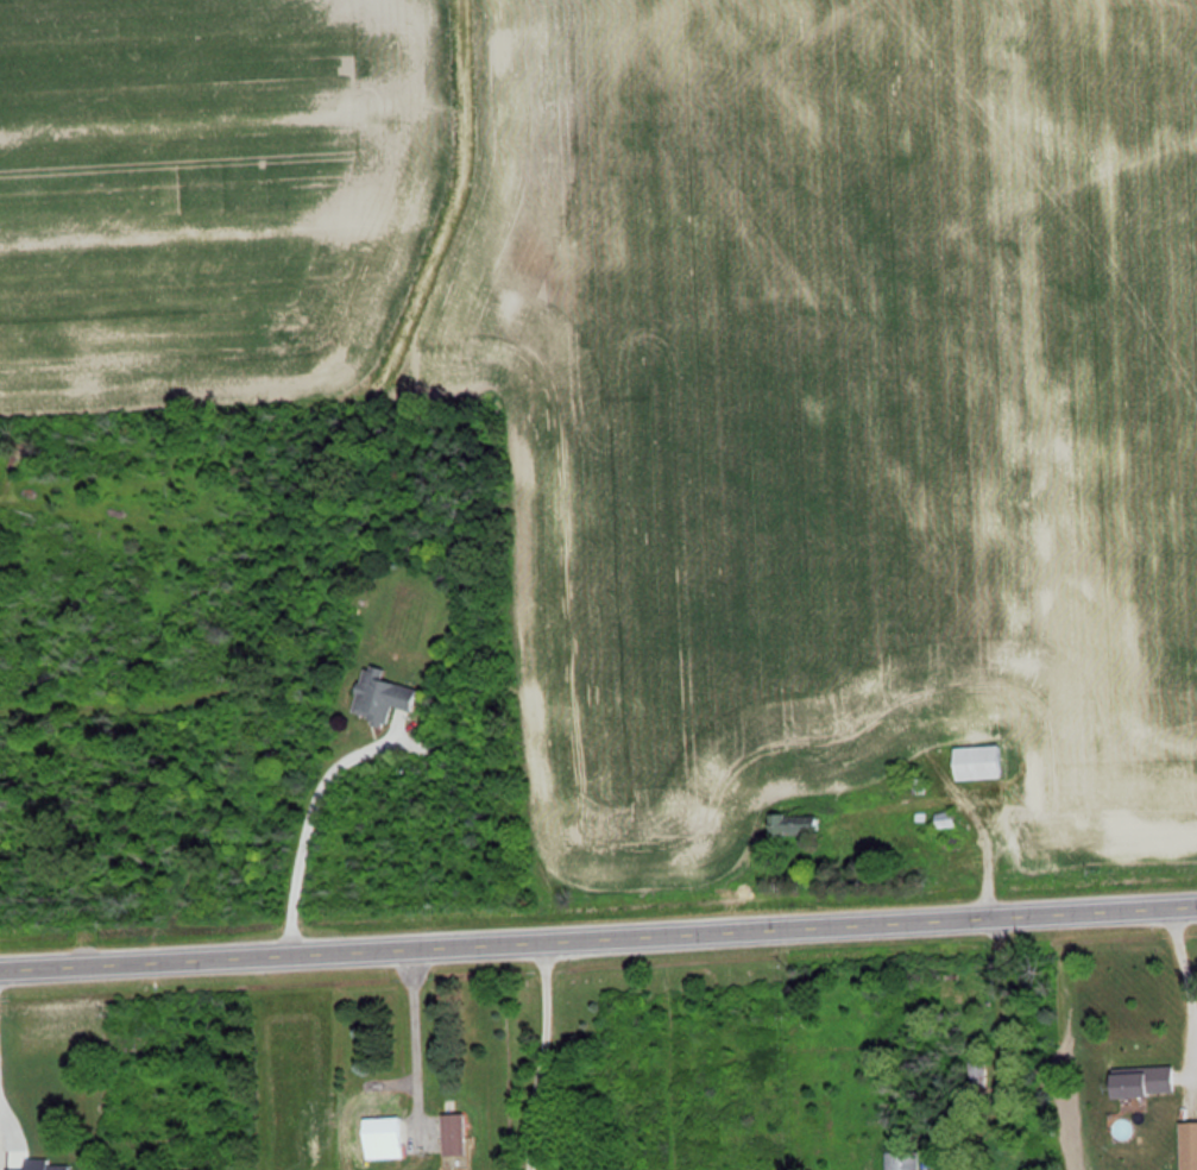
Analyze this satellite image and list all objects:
building: (390, 694)
building: (987, 761)
building: (952, 820)
road: (716, 930)
road: (222, 958)
road: (232, 958)
road: (108, 964)
building: (1153, 1081)
building: (458, 1132)
building: (1192, 1145)
building: (908, 1159)

